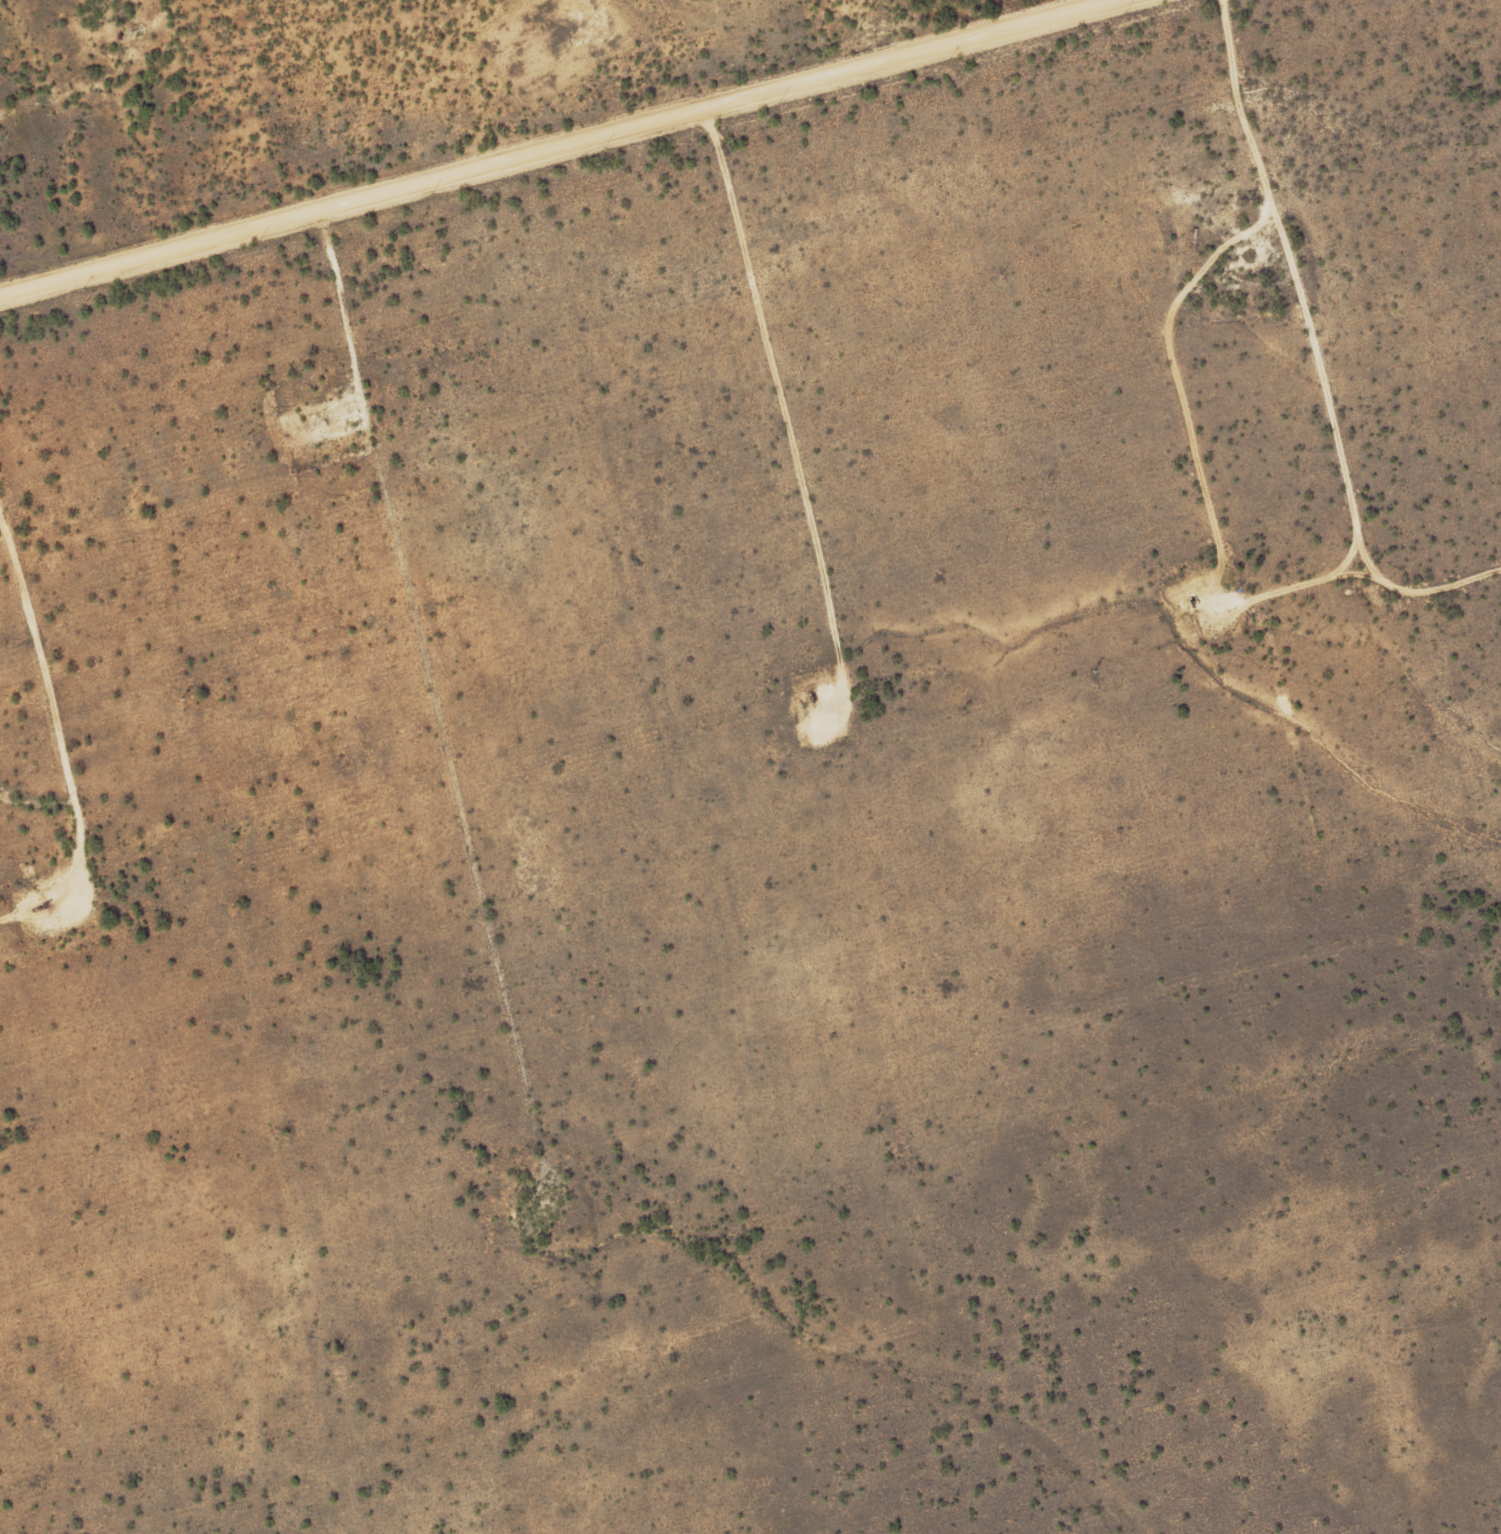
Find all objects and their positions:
road: (563, 149)
road: (57, 735)

